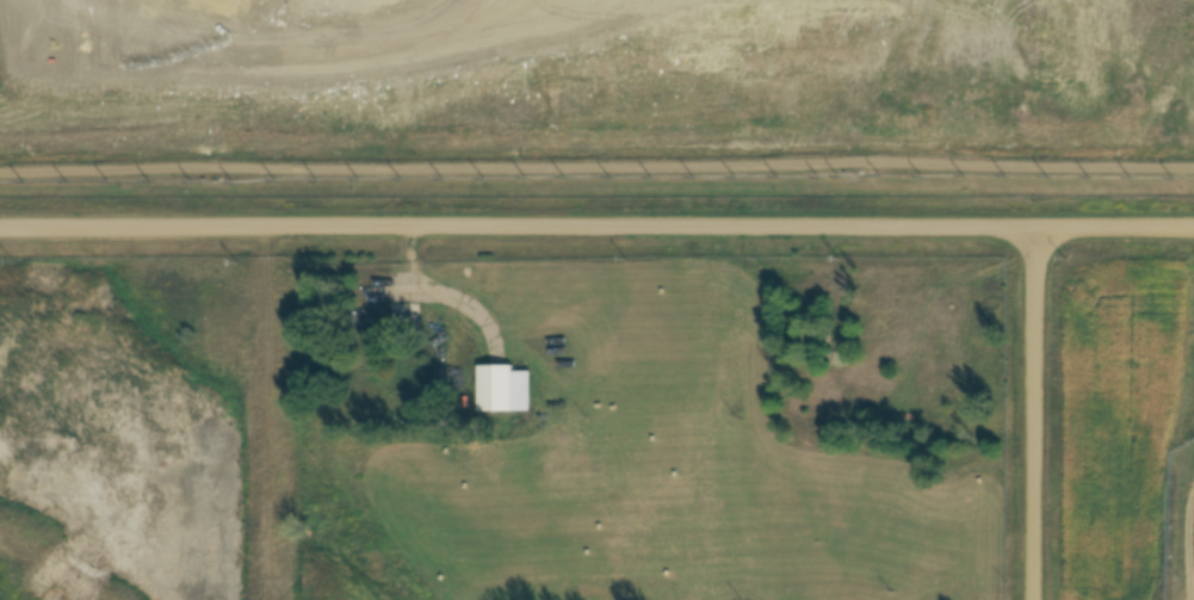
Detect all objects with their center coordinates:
landfill: (601, 63)
road: (596, 168)
road: (1114, 225)
road: (516, 227)
building: (383, 324)
building: (503, 390)
road: (1037, 413)

